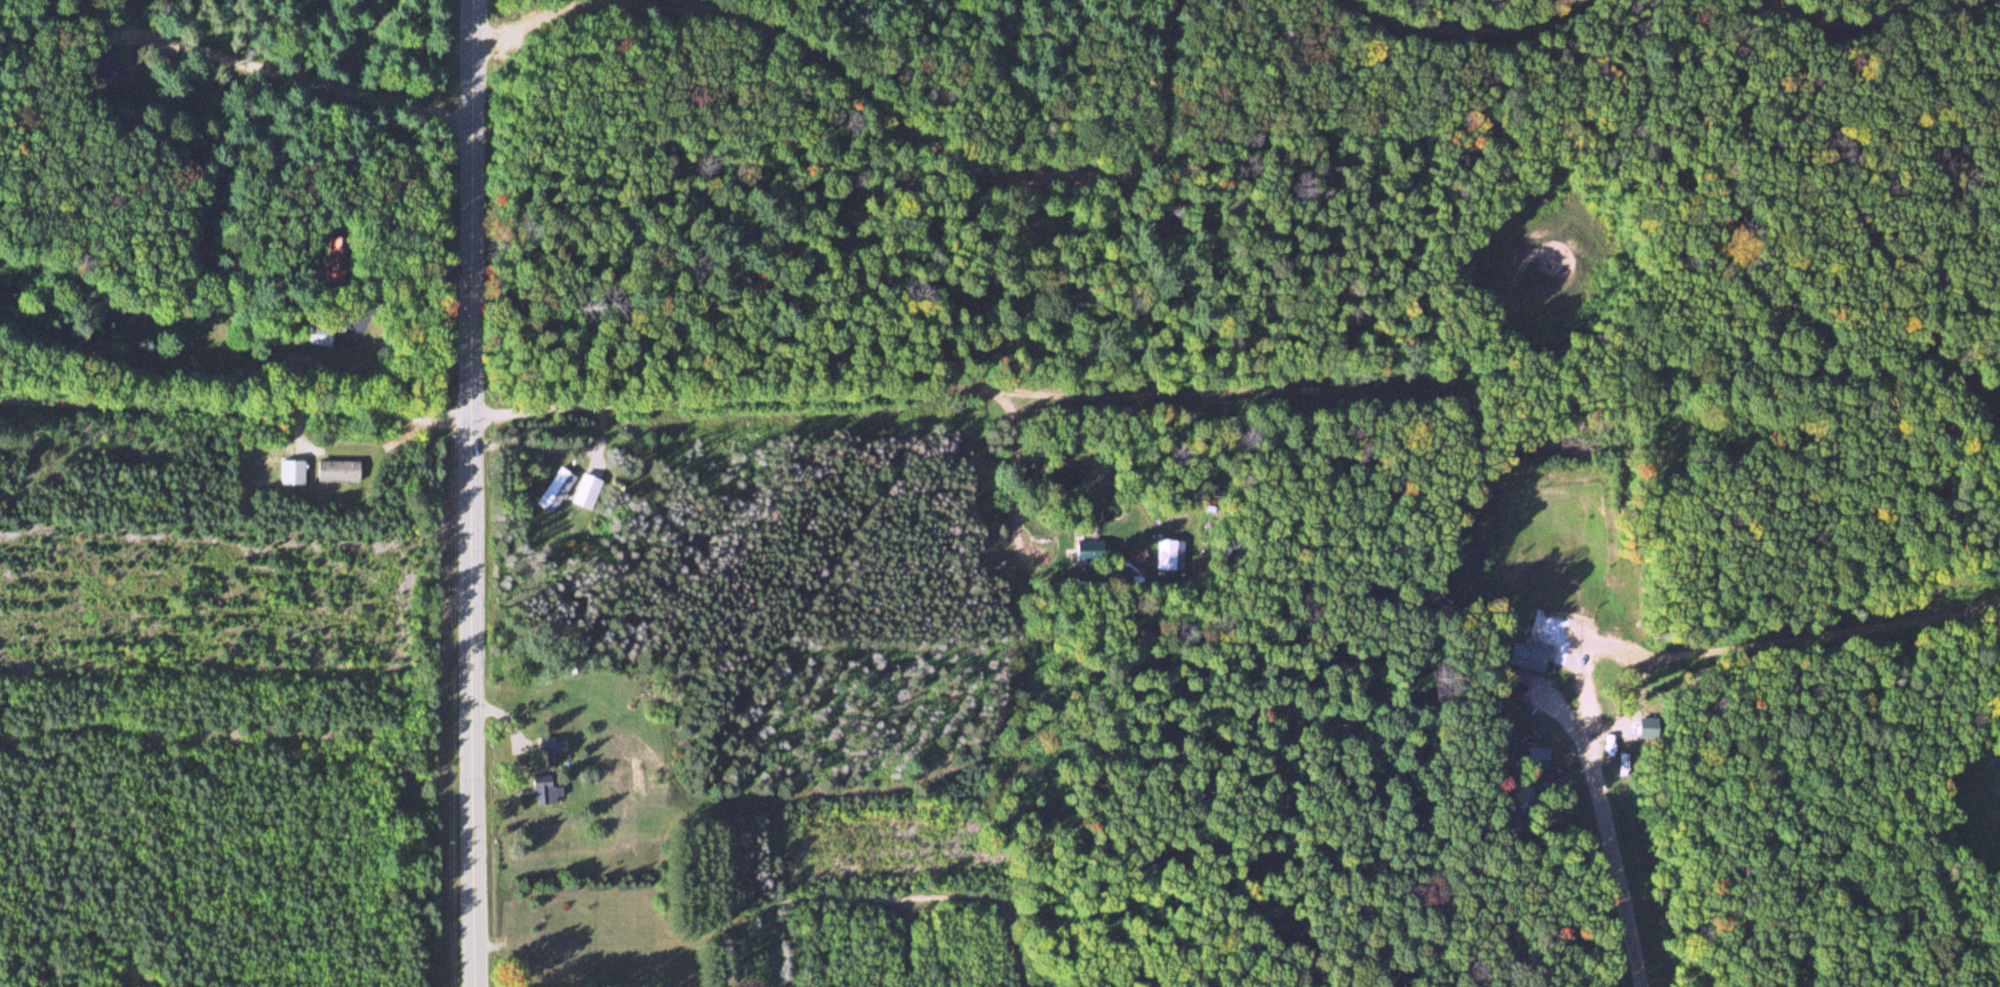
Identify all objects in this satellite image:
road: (1455, 19)
road: (1848, 26)
building: (104, 69)
road: (896, 124)
road: (1955, 214)
building: (320, 331)
road: (639, 365)
road: (1876, 458)
building: (336, 470)
building: (291, 472)
building: (556, 489)
building: (586, 490)
road: (469, 493)
building: (1086, 549)
building: (1137, 554)
building: (1169, 554)
building: (1525, 657)
building: (548, 751)
building: (544, 790)

